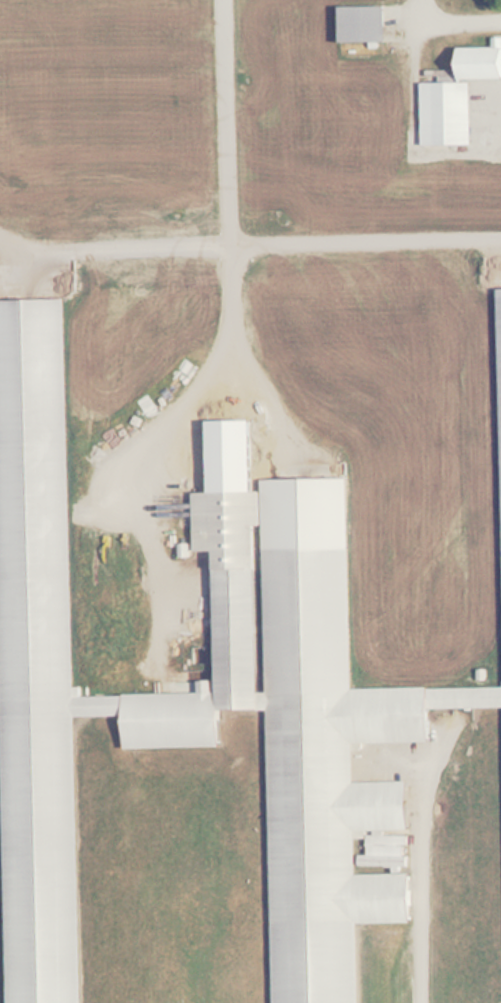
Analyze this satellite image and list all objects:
building: (364, 23)
building: (456, 98)
building: (500, 313)
building: (315, 773)

